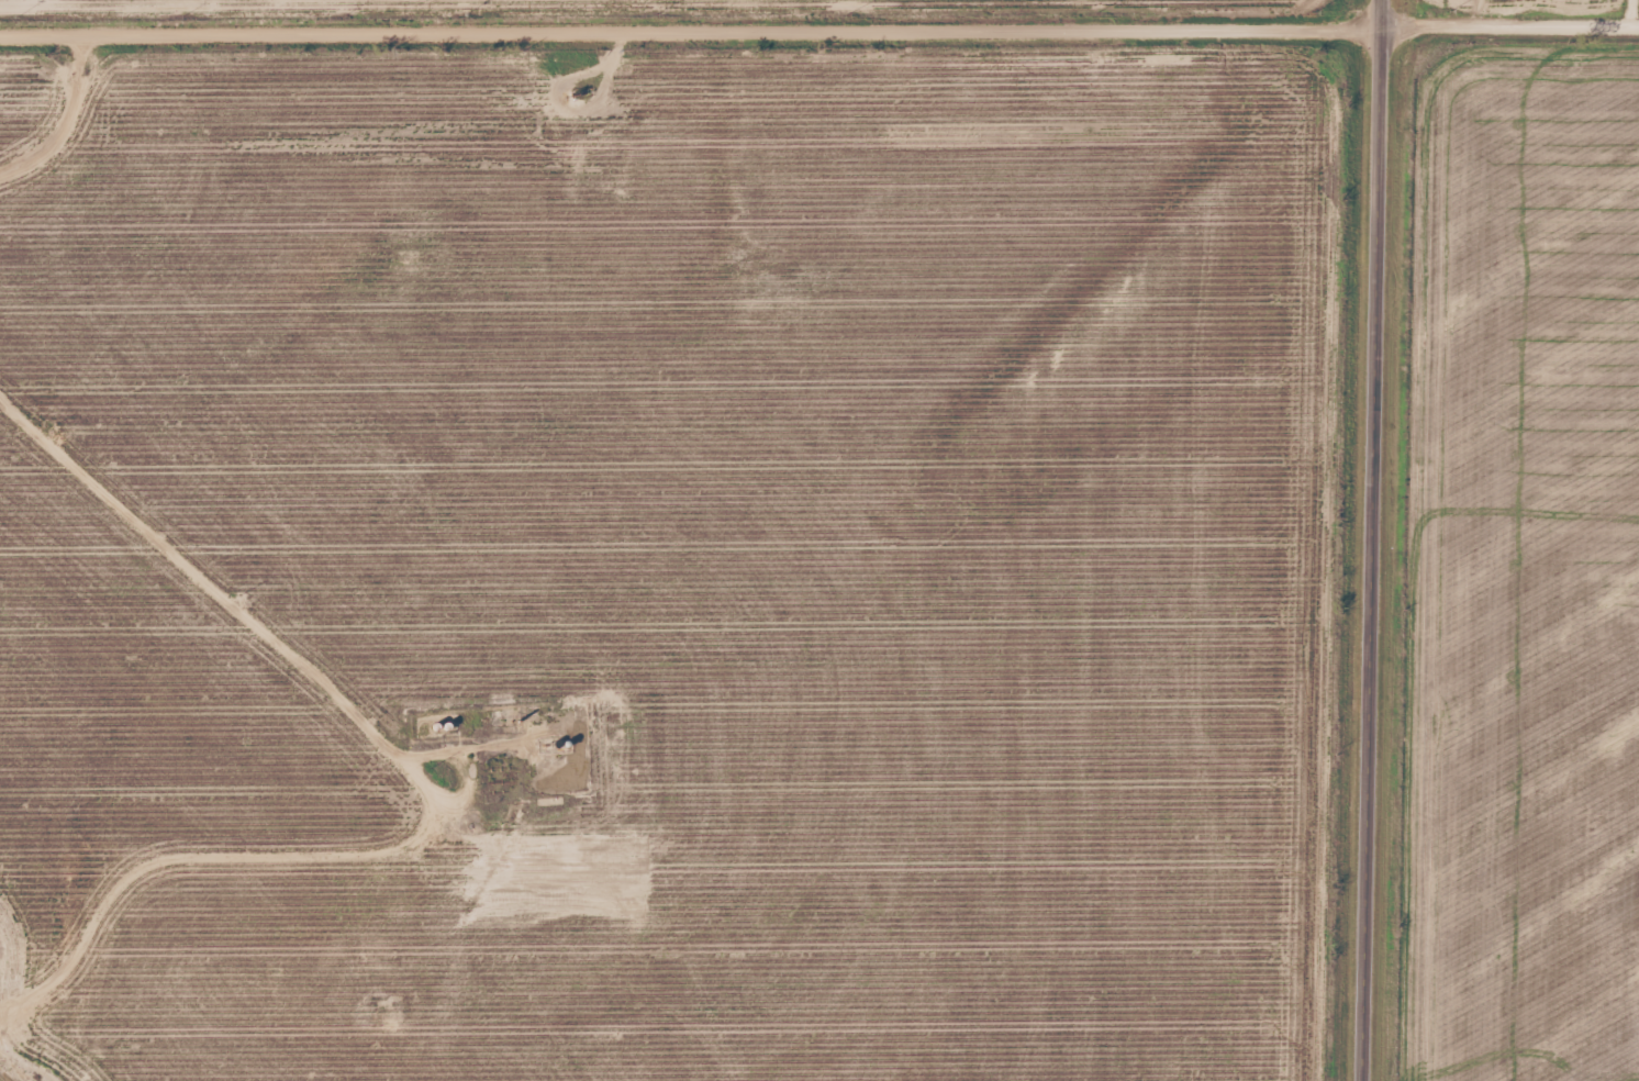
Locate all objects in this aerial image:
road: (819, 24)
road: (59, 108)
road: (1373, 540)
road: (406, 755)

